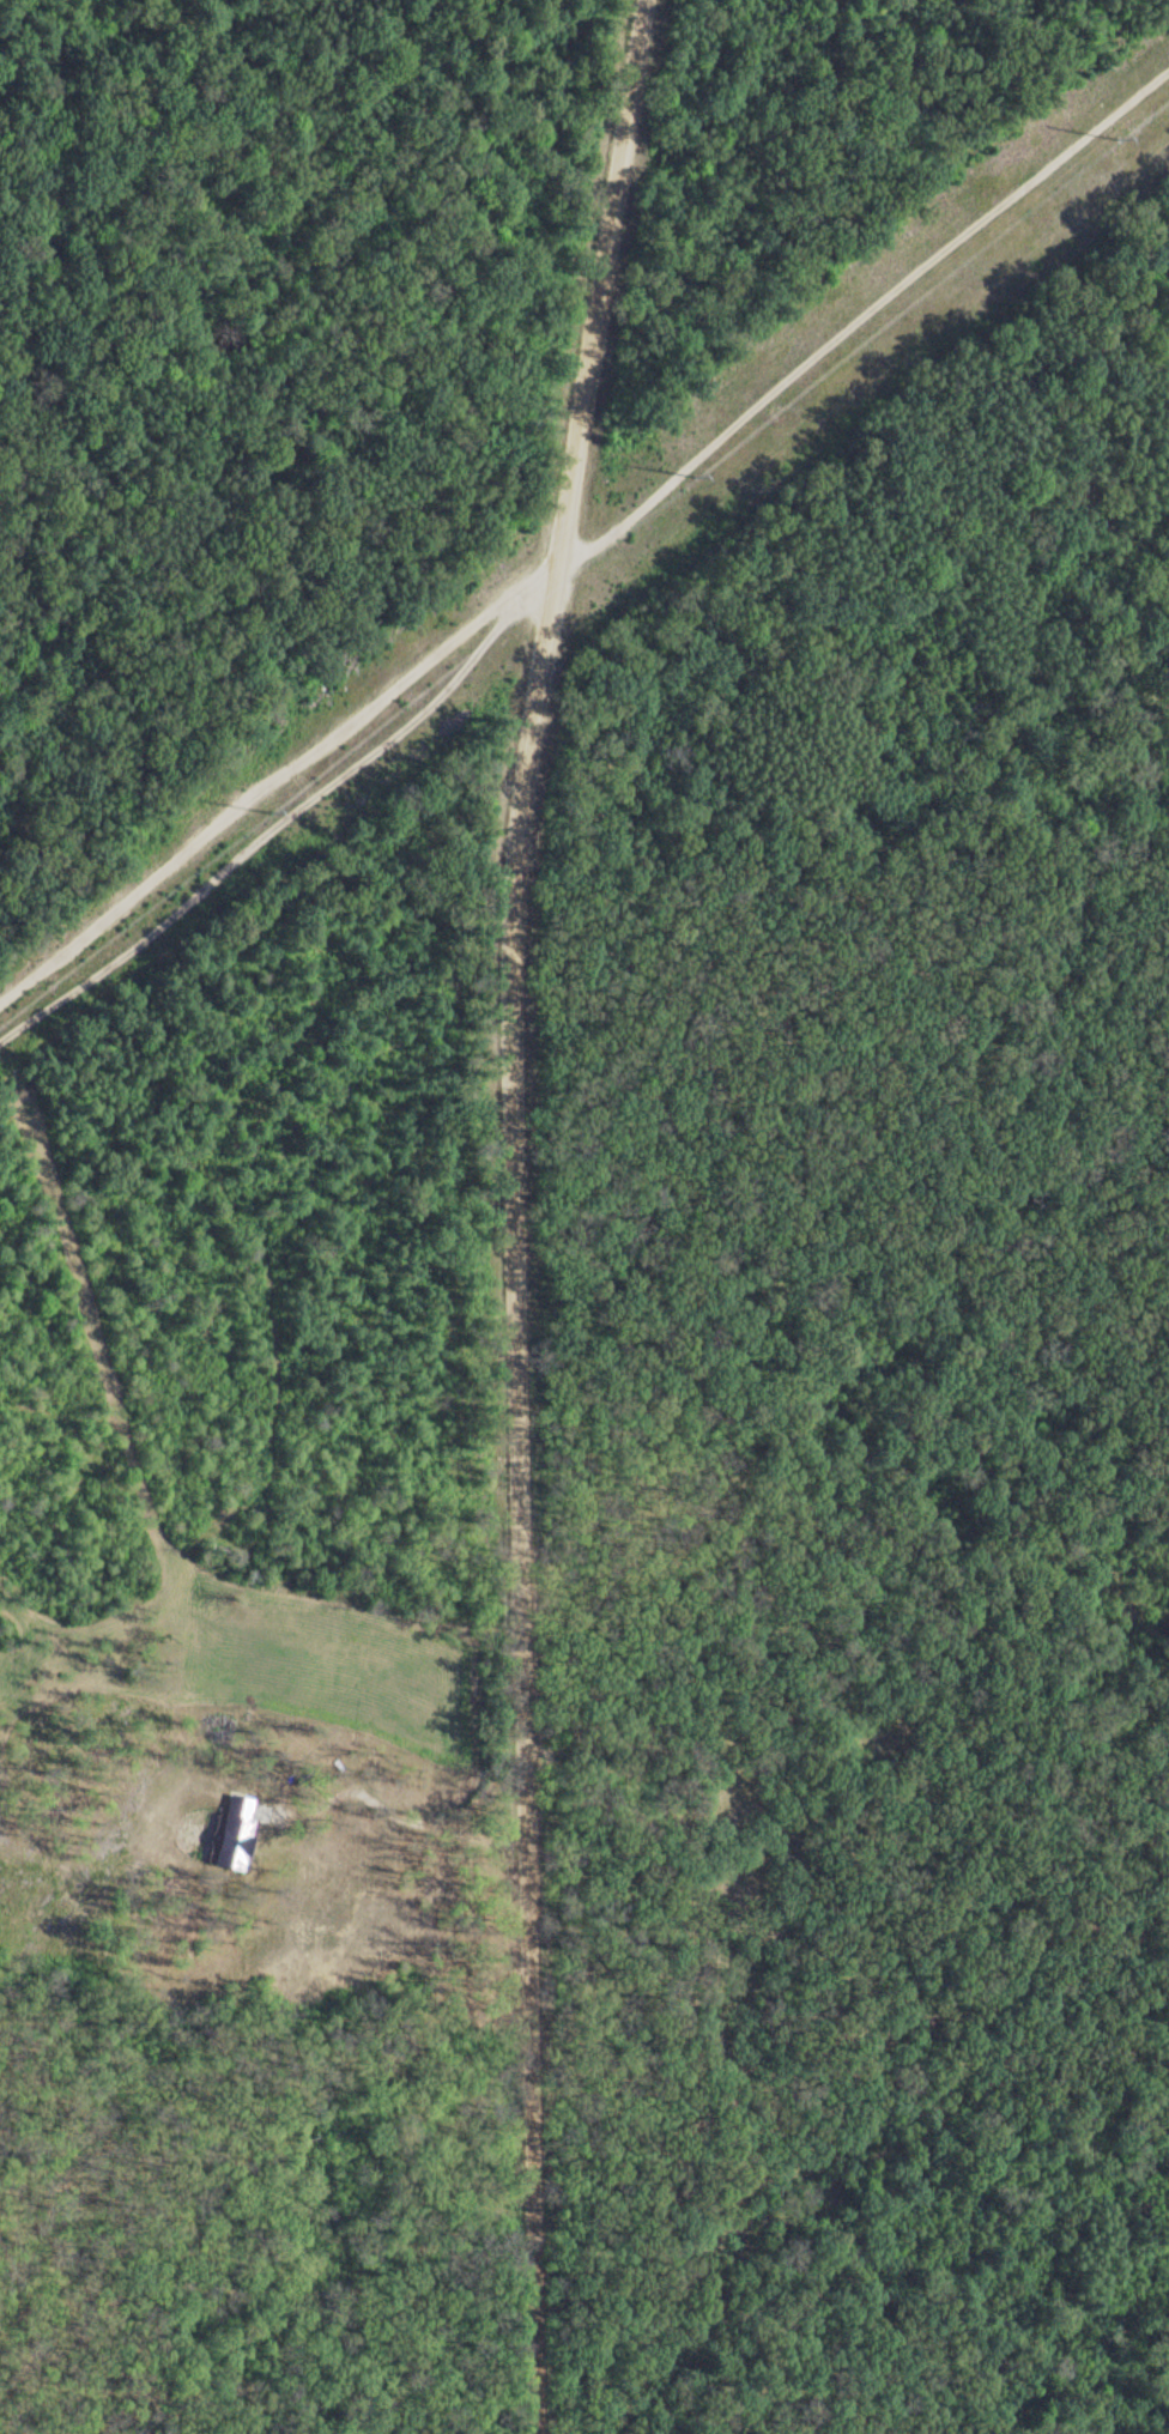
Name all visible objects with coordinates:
road: (594, 539)
road: (513, 1212)
road: (388, 1798)
building: (236, 1831)

